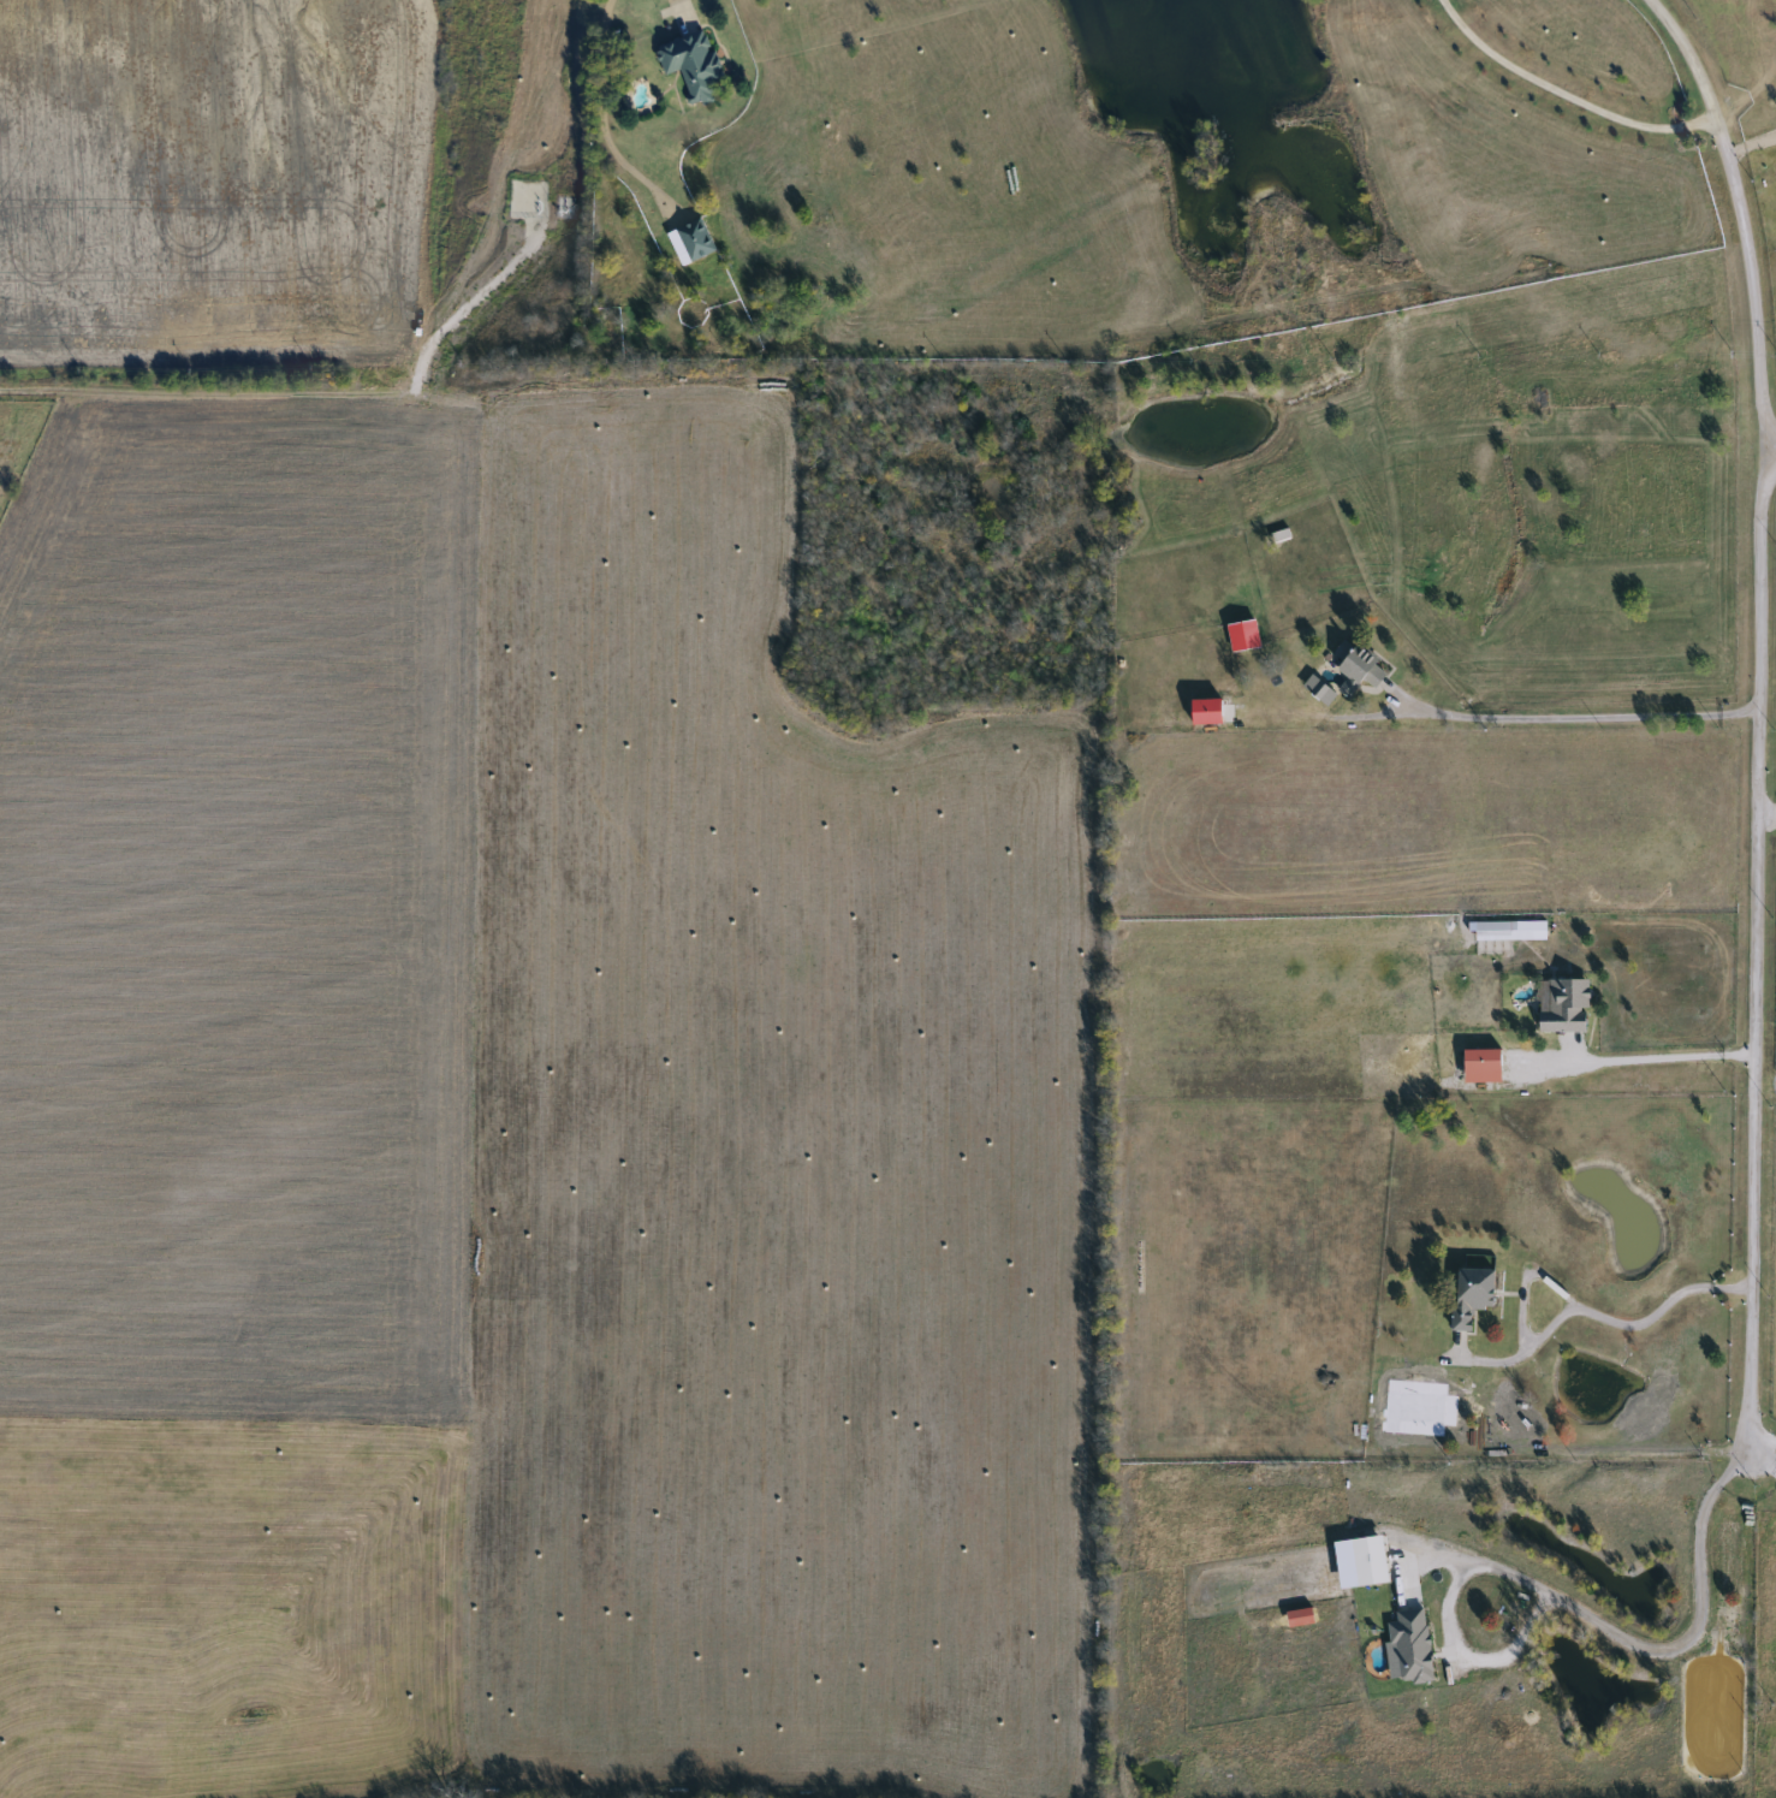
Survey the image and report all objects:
building: (688, 64)
road: (1564, 95)
road: (599, 119)
building: (689, 242)
road: (303, 388)
road: (1774, 451)
building: (1241, 635)
building: (1353, 667)
road: (1763, 712)
road: (1581, 717)
road: (1769, 813)
building: (1561, 1004)
road: (1656, 1055)
building: (1467, 1296)
road: (1647, 1318)
road: (1765, 1443)
road: (1764, 1464)
road: (1658, 1655)

